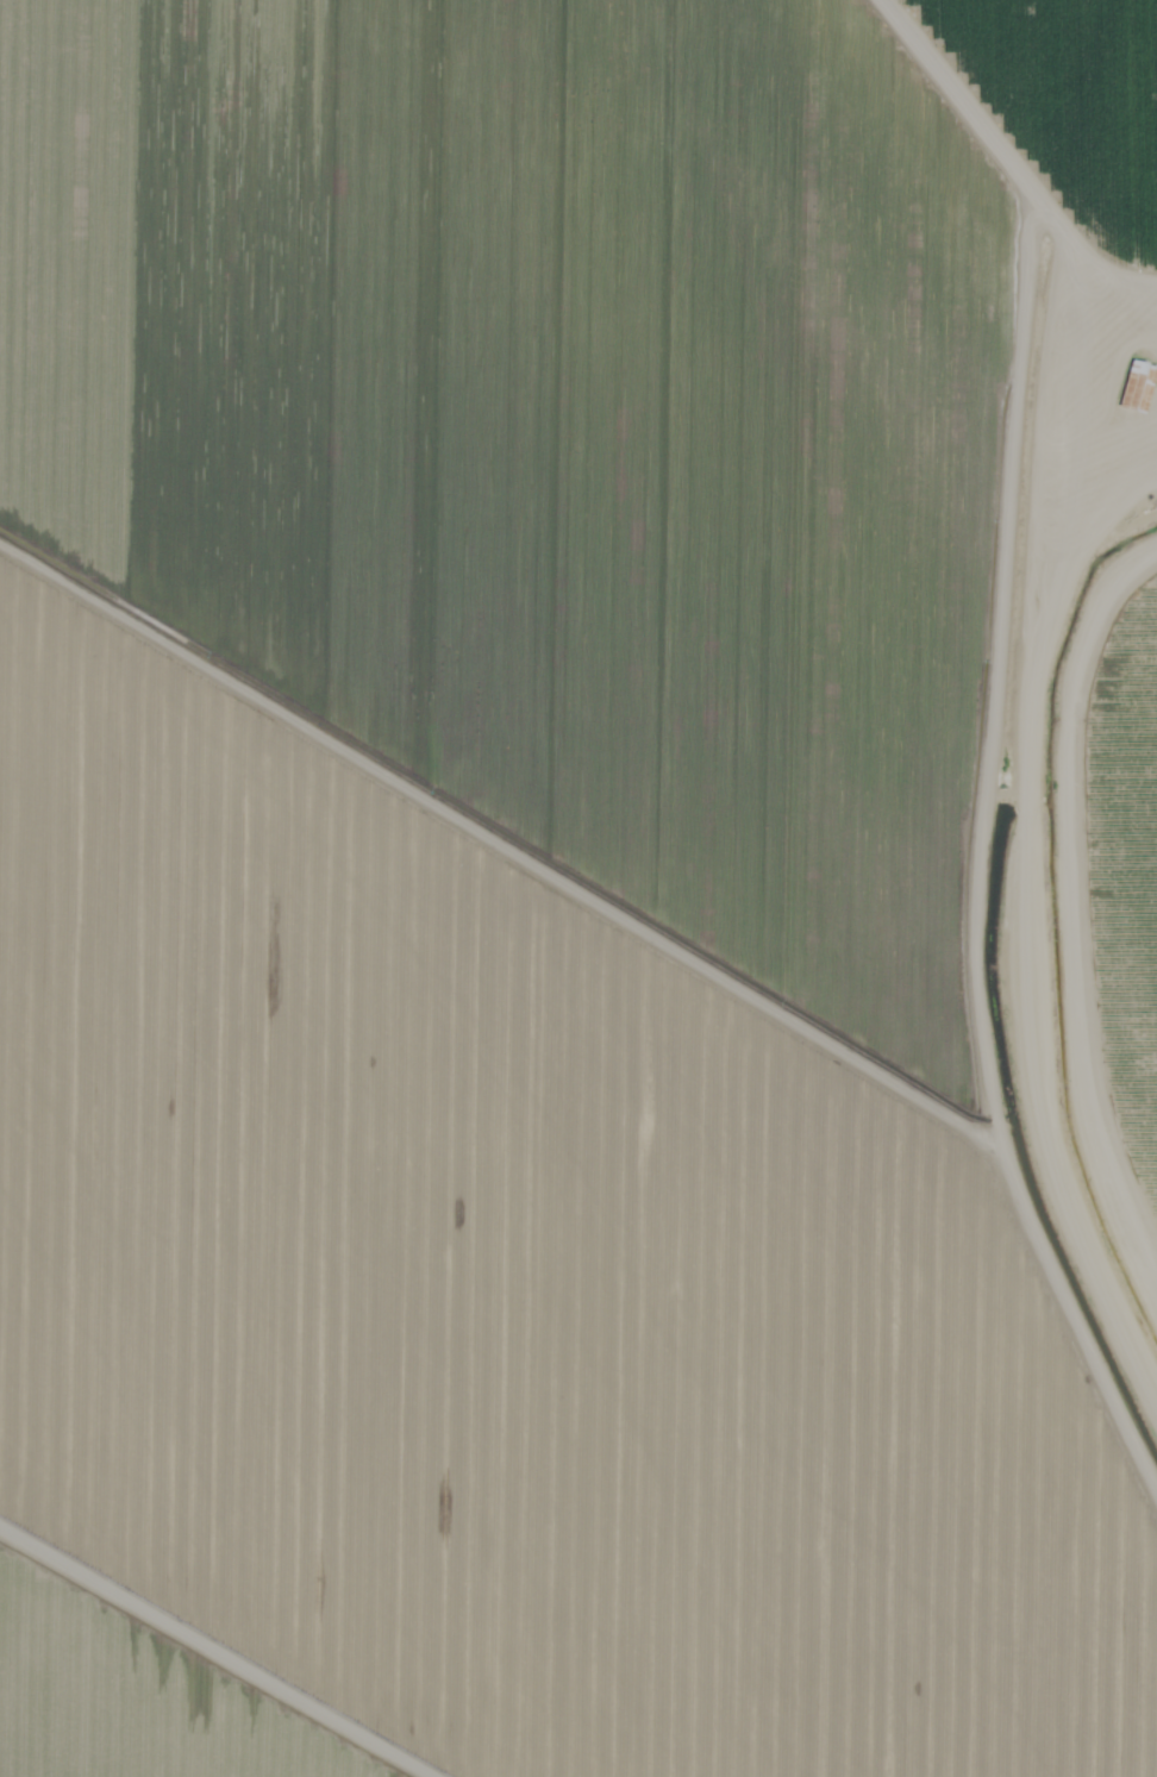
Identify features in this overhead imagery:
crop: (563, 888)
road: (1024, 902)
crop: (1112, 914)

